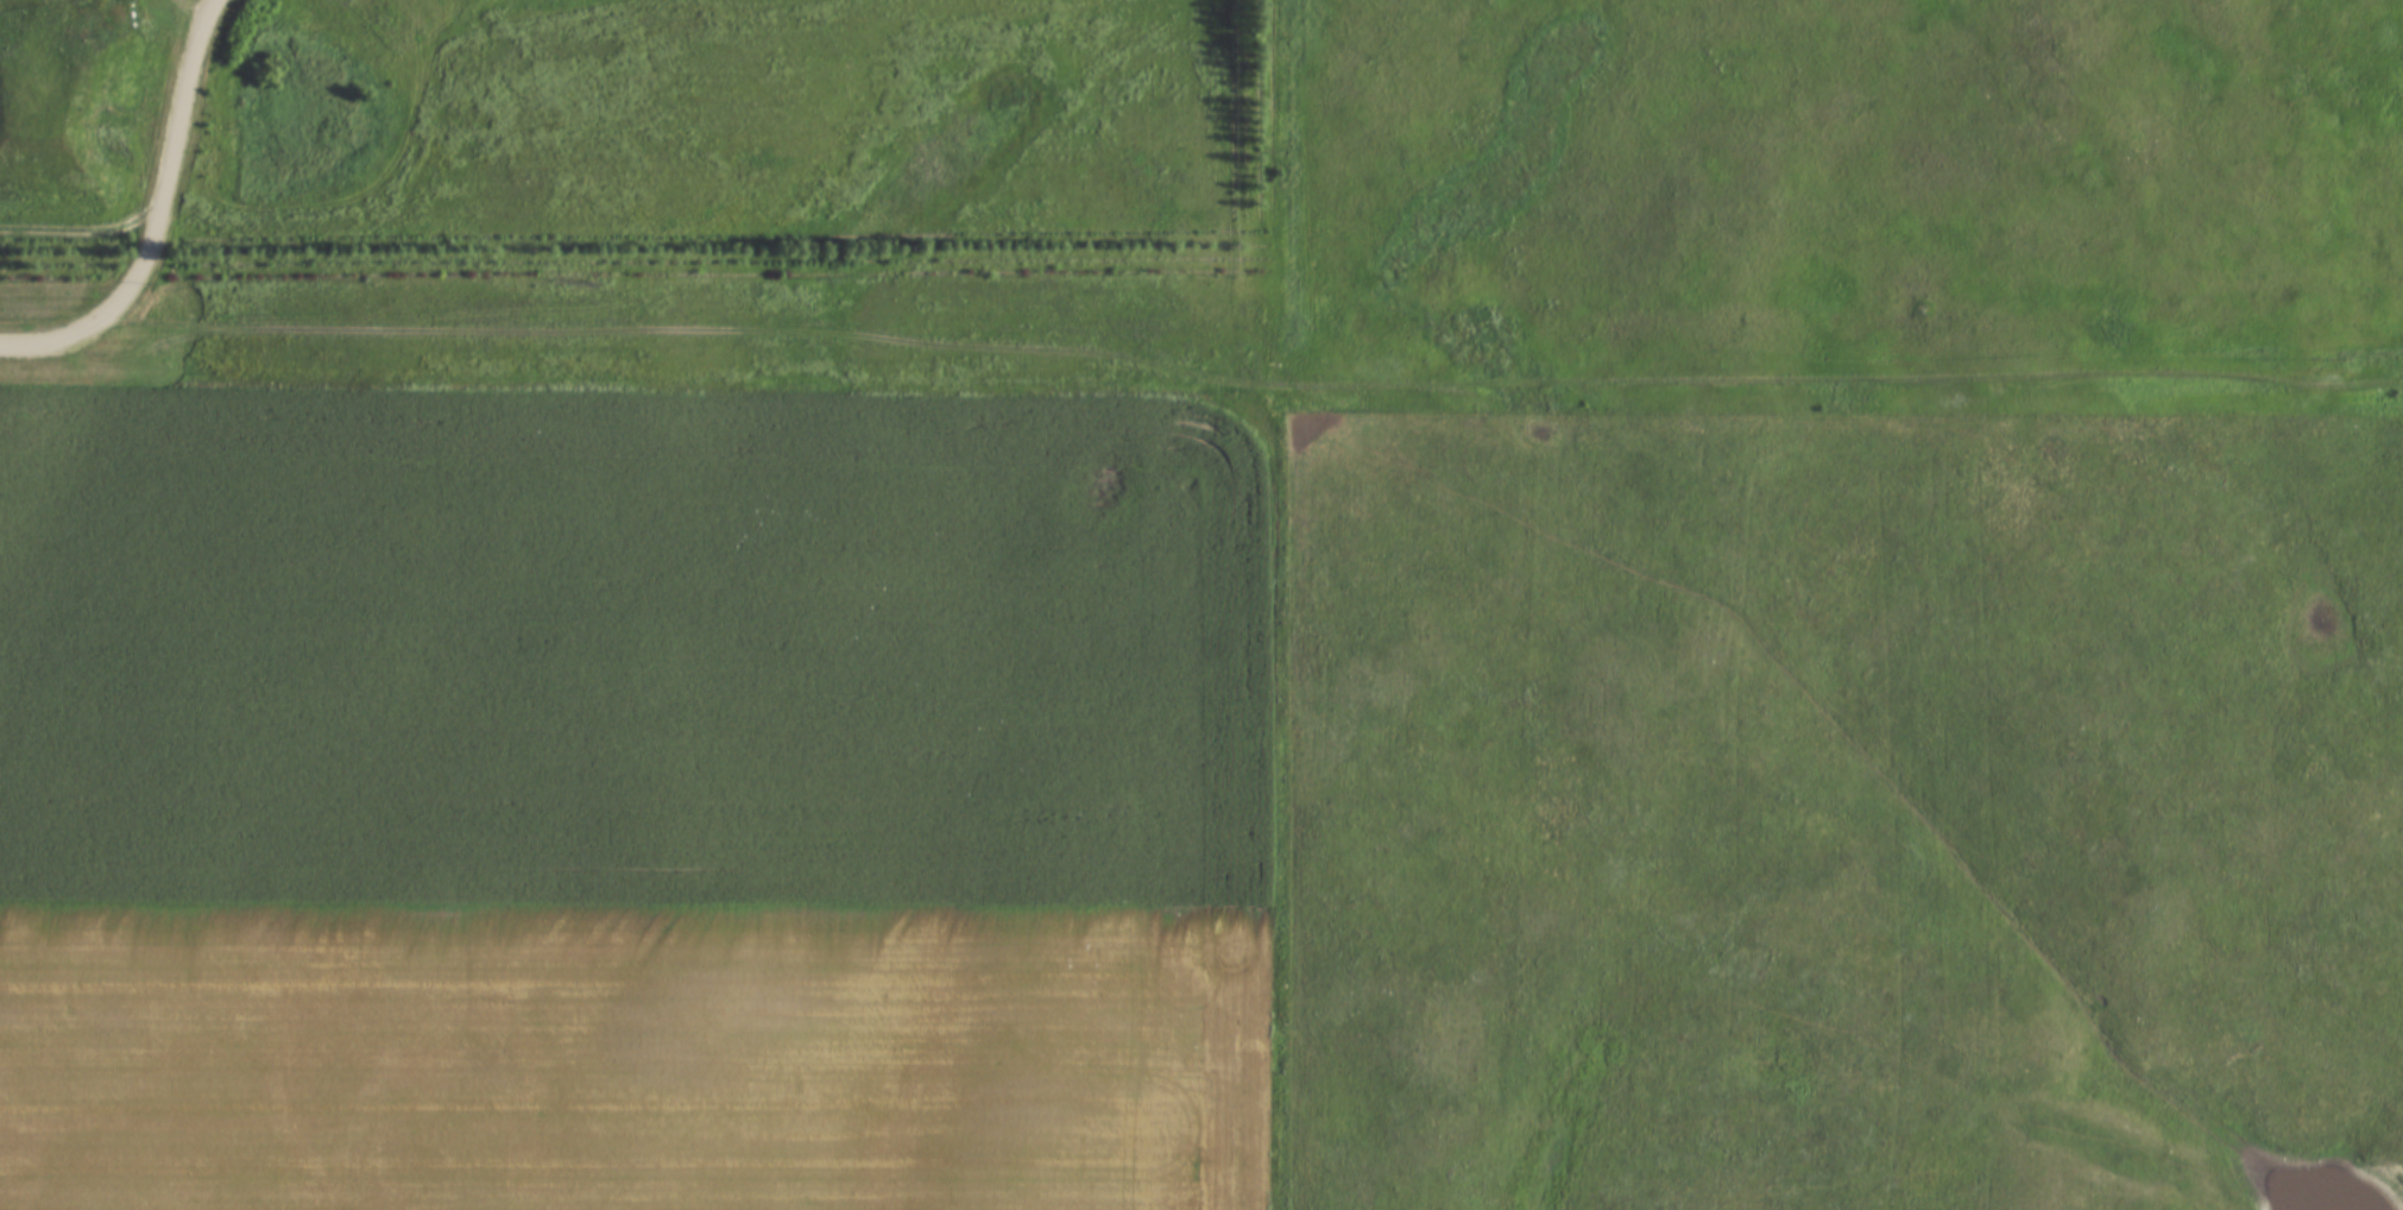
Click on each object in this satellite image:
quarry: (617, 109)
road: (1201, 397)

